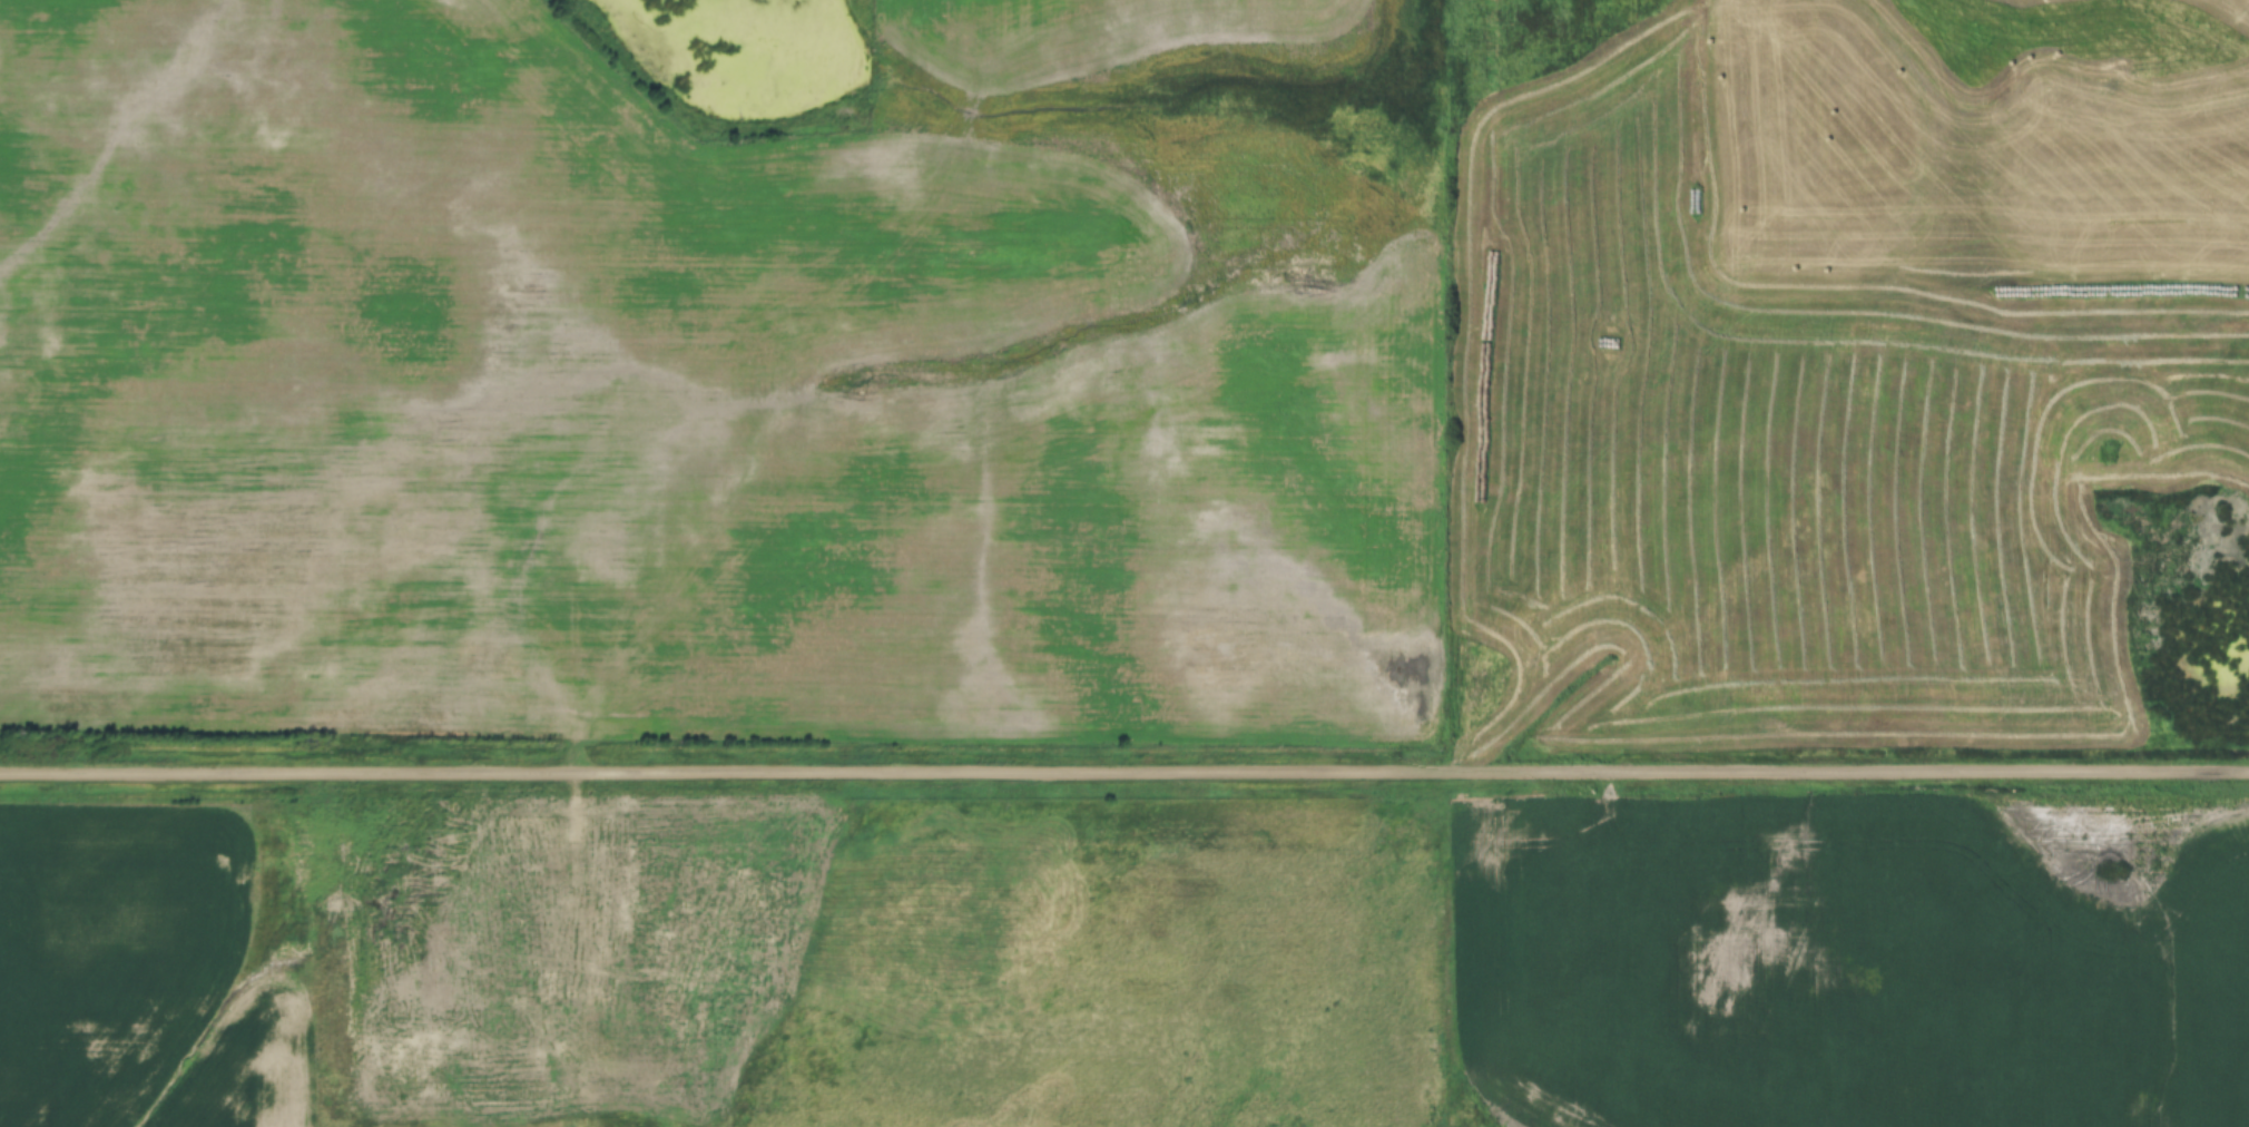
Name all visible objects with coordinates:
road: (1124, 775)

